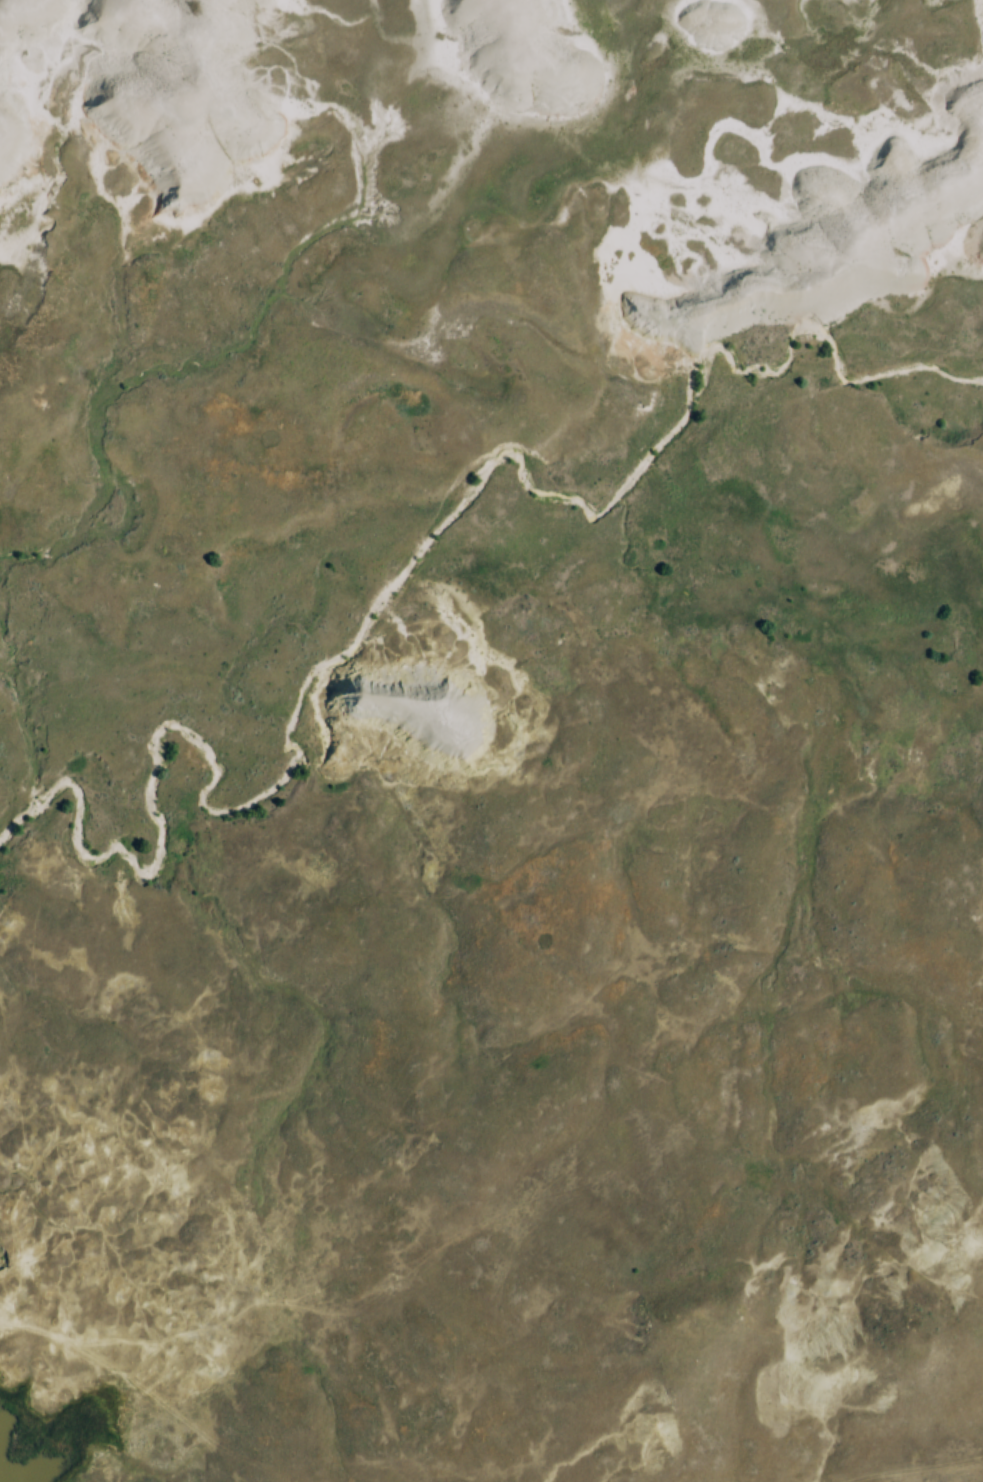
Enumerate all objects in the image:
road: (467, 1233)
road: (163, 1407)
road: (912, 1469)

